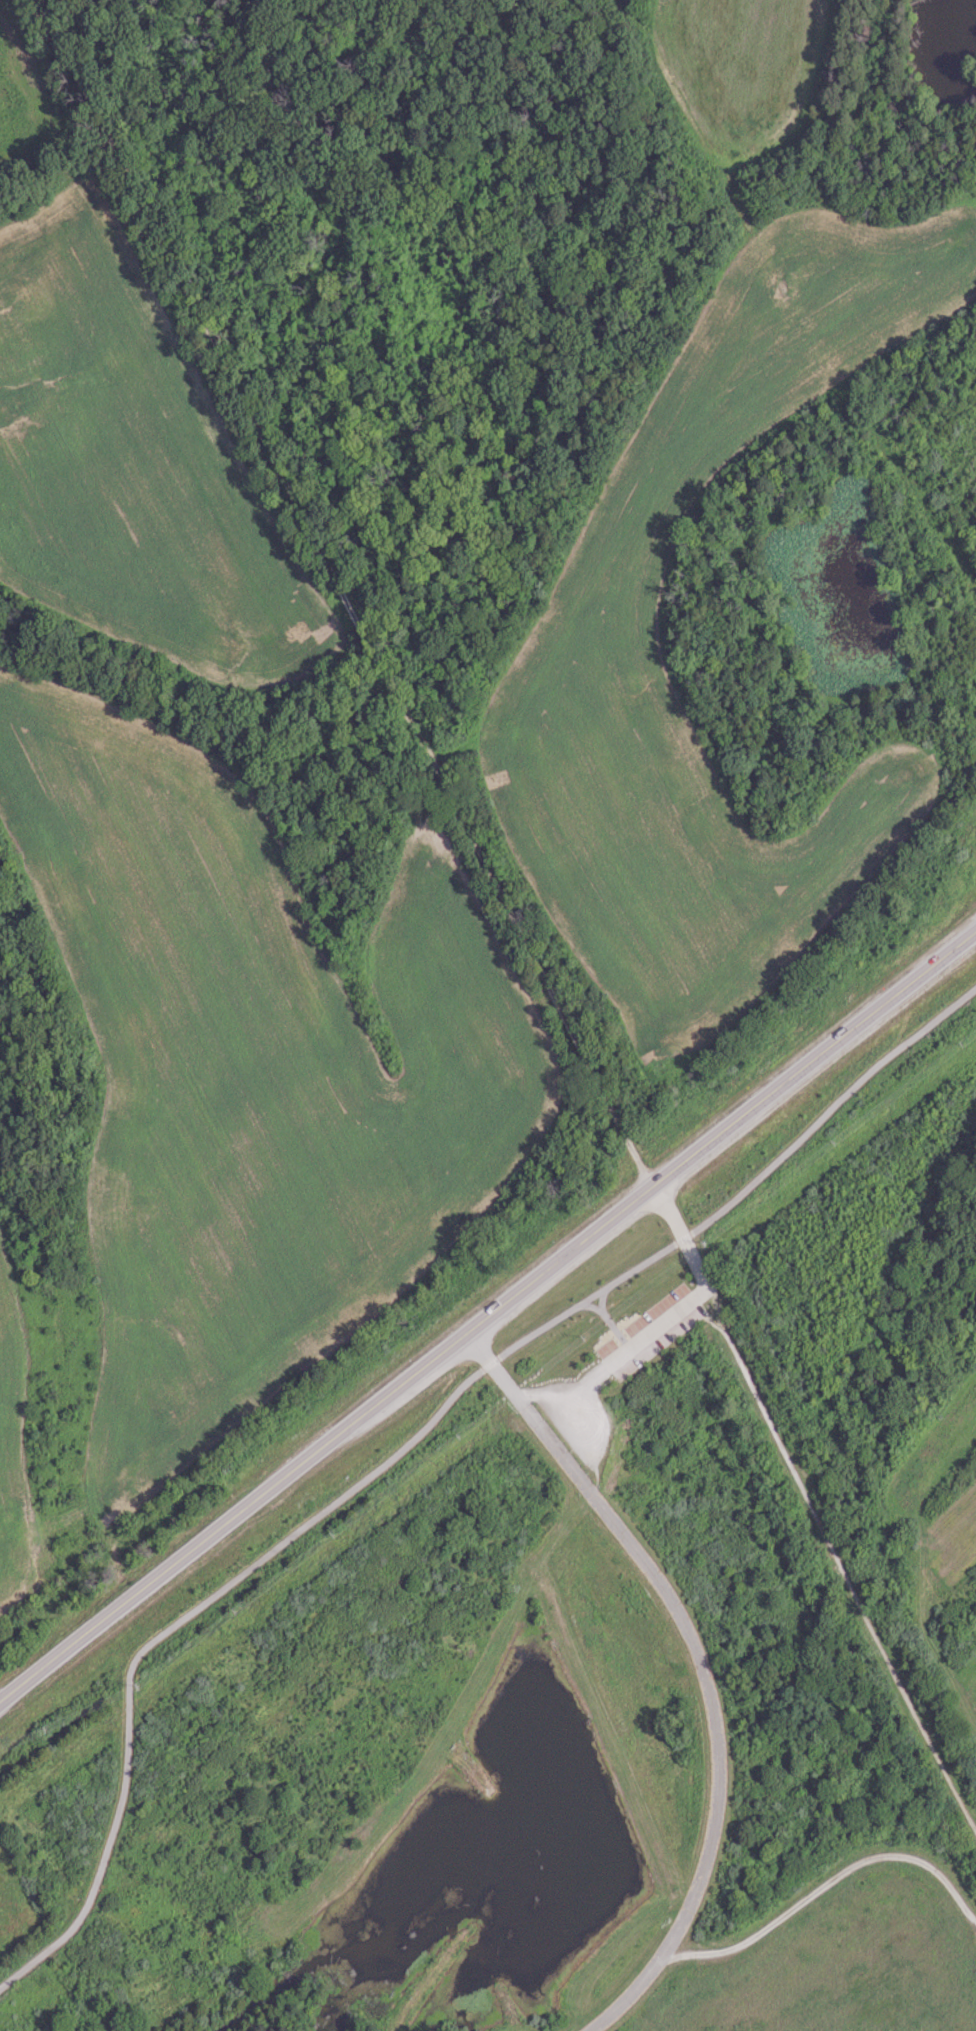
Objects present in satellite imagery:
road: (333, 571)
road: (673, 1220)
road: (488, 1313)
parking lot: (634, 1330)
road: (623, 1363)
parking lot: (572, 1404)
road: (406, 1439)
road: (842, 1570)
road: (701, 1663)
road: (829, 1885)

